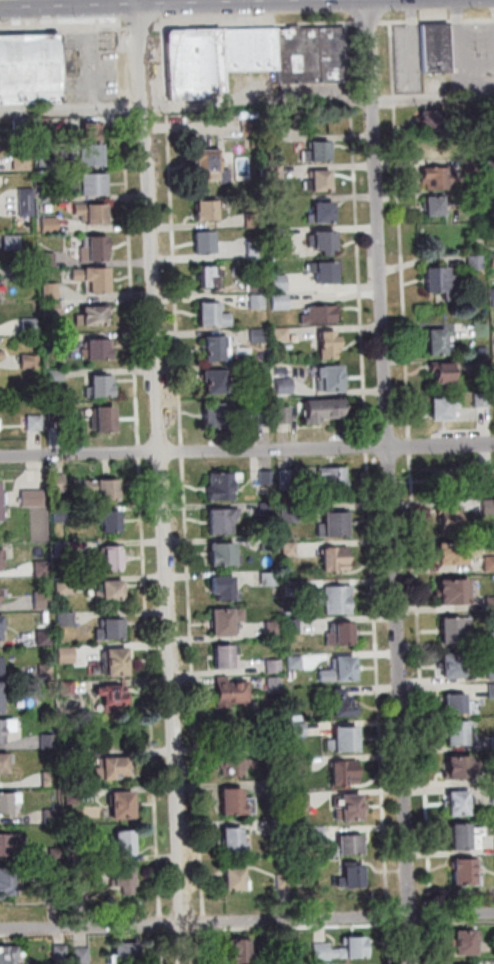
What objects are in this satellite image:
road: (438, 20)
road: (370, 21)
road: (256, 23)
road: (142, 27)
road: (65, 29)
building: (439, 46)
building: (251, 49)
parking lot: (474, 51)
road: (89, 54)
building: (333, 54)
building: (299, 55)
road: (463, 56)
building: (195, 62)
building: (31, 67)
road: (434, 96)
road: (187, 104)
building: (431, 118)
building: (46, 124)
building: (23, 126)
building: (251, 127)
building: (92, 129)
building: (276, 133)
building: (319, 150)
building: (93, 153)
building: (24, 162)
building: (50, 165)
building: (212, 165)
building: (476, 166)
building: (490, 166)
building: (279, 170)
building: (439, 176)
building: (321, 180)
building: (94, 183)
building: (52, 193)
building: (477, 199)
building: (492, 199)
building: (28, 202)
building: (436, 204)
building: (208, 209)
building: (94, 212)
building: (325, 212)
building: (255, 219)
building: (52, 224)
building: (483, 227)
road: (359, 230)
road: (402, 230)
road: (175, 235)
road: (132, 236)
building: (327, 239)
building: (208, 241)
building: (14, 242)
building: (257, 248)
building: (96, 249)
building: (51, 259)
building: (478, 262)
building: (276, 270)
building: (326, 271)
building: (29, 273)
building: (210, 276)
building: (95, 278)
building: (444, 281)
building: (282, 282)
building: (258, 284)
building: (52, 290)
building: (260, 301)
building: (282, 301)
building: (54, 308)
building: (95, 314)
building: (214, 315)
building: (322, 315)
building: (31, 325)
building: (483, 329)
building: (283, 334)
building: (261, 335)
building: (55, 341)
building: (440, 341)
building: (331, 344)
building: (219, 348)
building: (99, 350)
building: (485, 350)
building: (2, 355)
building: (32, 361)
building: (485, 364)
building: (264, 371)
building: (445, 372)
building: (58, 375)
building: (334, 377)
building: (218, 381)
building: (102, 385)
building: (287, 385)
building: (484, 399)
building: (445, 407)
building: (324, 409)
building: (58, 412)
building: (215, 414)
building: (286, 414)
building: (266, 417)
building: (105, 419)
building: (36, 422)
building: (0, 423)
road: (370, 446)
road: (412, 446)
road: (247, 450)
road: (142, 451)
road: (185, 451)
building: (487, 473)
building: (269, 477)
building: (289, 479)
building: (336, 480)
building: (446, 480)
road: (164, 481)
building: (59, 482)
road: (391, 482)
building: (225, 485)
building: (109, 489)
building: (267, 490)
building: (34, 497)
building: (489, 506)
building: (2, 507)
building: (269, 508)
building: (293, 514)
building: (62, 516)
building: (451, 518)
building: (224, 520)
building: (112, 521)
building: (338, 523)
building: (271, 543)
building: (64, 549)
building: (292, 549)
building: (454, 553)
building: (226, 554)
building: (110, 558)
building: (1, 559)
building: (337, 559)
building: (490, 563)
building: (44, 568)
building: (493, 576)
building: (271, 579)
building: (66, 586)
building: (295, 587)
building: (226, 588)
building: (114, 589)
building: (456, 591)
building: (44, 599)
building: (339, 600)
building: (491, 604)
building: (68, 618)
building: (227, 620)
building: (1, 625)
building: (294, 626)
building: (112, 629)
building: (275, 629)
building: (456, 629)
building: (346, 632)
building: (46, 638)
building: (491, 639)
building: (68, 654)
building: (227, 655)
building: (118, 661)
building: (297, 662)
building: (1, 665)
building: (276, 665)
building: (453, 665)
building: (342, 670)
building: (491, 671)
road: (423, 681)
road: (380, 682)
building: (277, 685)
building: (68, 687)
road: (152, 687)
road: (195, 687)
building: (321, 689)
building: (233, 690)
building: (492, 690)
building: (115, 694)
building: (1, 698)
building: (345, 703)
building: (457, 704)
building: (299, 718)
building: (6, 727)
building: (301, 729)
building: (458, 733)
building: (347, 739)
building: (50, 741)
building: (279, 752)
building: (4, 763)
building: (236, 763)
building: (303, 764)
building: (114, 767)
building: (461, 767)
building: (346, 772)
building: (52, 778)
building: (282, 788)
building: (74, 795)
building: (8, 801)
building: (234, 801)
building: (303, 801)
building: (460, 803)
building: (124, 805)
building: (354, 807)
building: (54, 816)
building: (282, 825)
building: (319, 833)
building: (465, 838)
building: (234, 840)
building: (8, 843)
building: (126, 843)
building: (350, 846)
building: (57, 855)
building: (465, 871)
building: (354, 875)
building: (126, 878)
building: (238, 879)
building: (285, 880)
building: (7, 882)
building: (80, 892)
road: (434, 914)
road: (390, 916)
road: (247, 920)
road: (206, 921)
road: (457, 922)
road: (163, 923)
road: (412, 924)
road: (297, 927)
road: (185, 930)
road: (88, 932)
road: (435, 941)
building: (466, 942)
road: (391, 943)
road: (207, 945)
building: (289, 945)
road: (164, 946)
building: (343, 949)
building: (241, 951)
building: (128, 953)
building: (8, 954)
building: (61, 954)
building: (83, 955)

